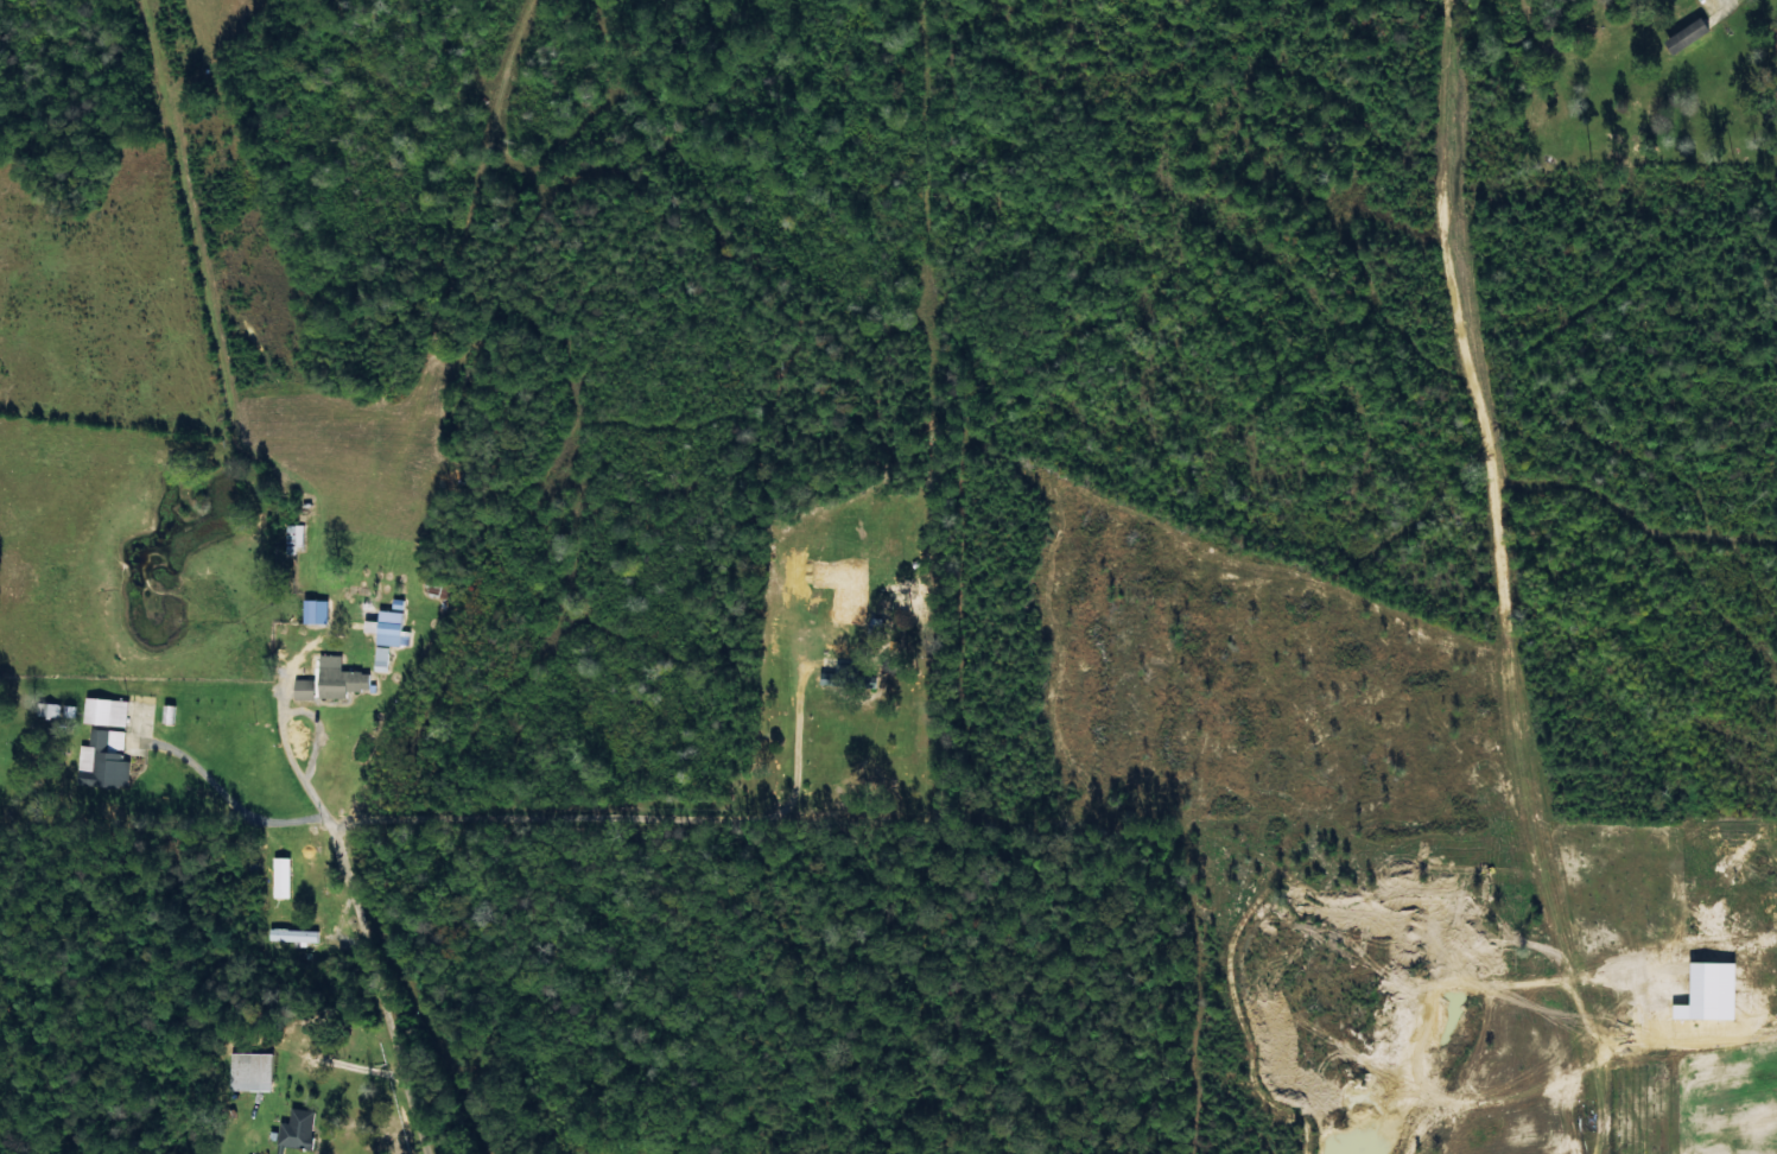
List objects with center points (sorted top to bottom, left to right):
building: (1684, 34)
building: (309, 610)
building: (387, 628)
building: (380, 658)
building: (338, 681)
building: (104, 711)
building: (103, 760)
road: (599, 819)
building: (290, 932)
road: (81, 945)
road: (376, 987)
building: (249, 1071)
building: (296, 1130)

